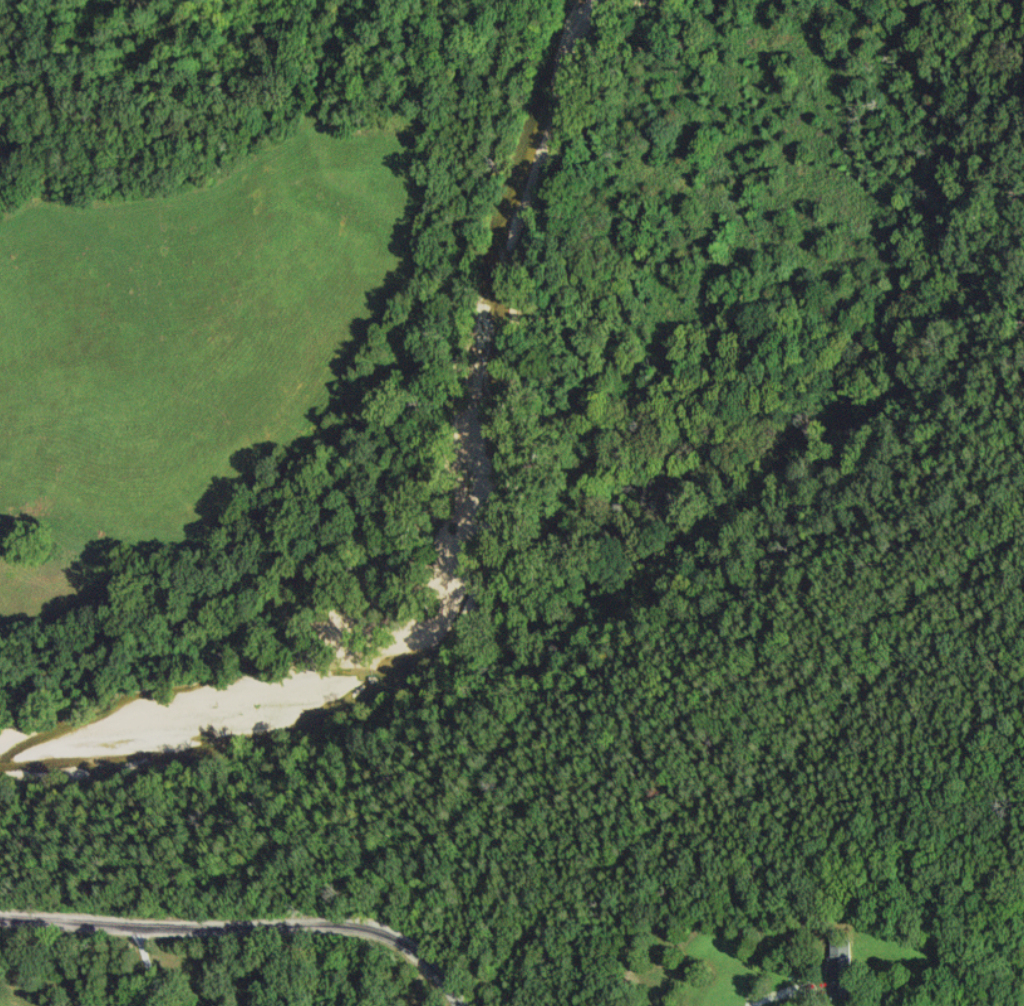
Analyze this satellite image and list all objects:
road: (245, 930)
road: (151, 965)
road: (794, 990)

